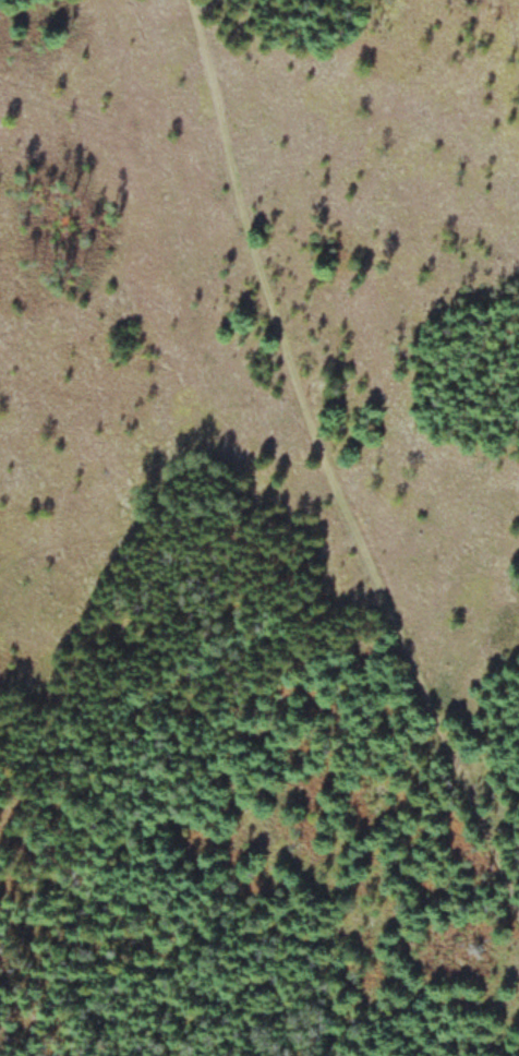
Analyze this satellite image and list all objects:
road: (326, 472)
park: (259, 528)

